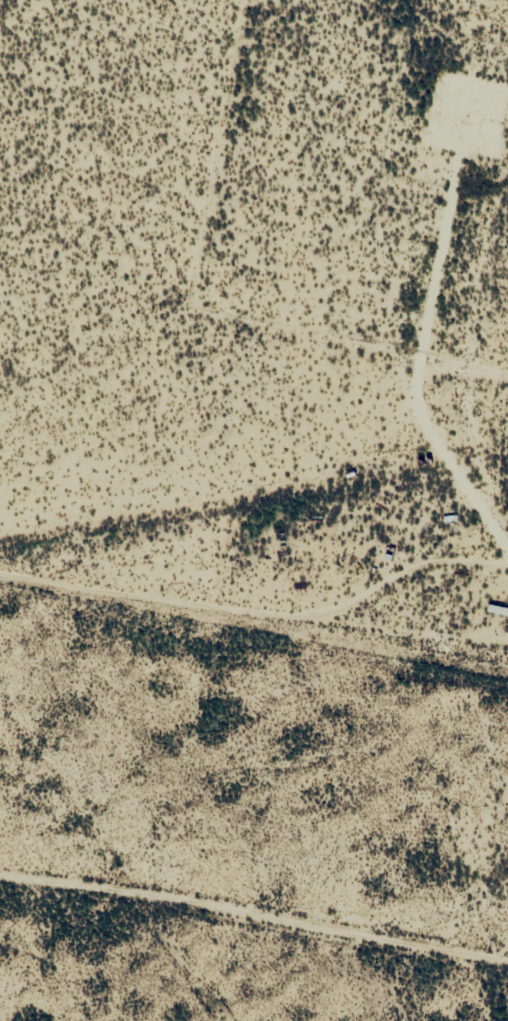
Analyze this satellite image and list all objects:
road: (252, 911)
road: (181, 972)

